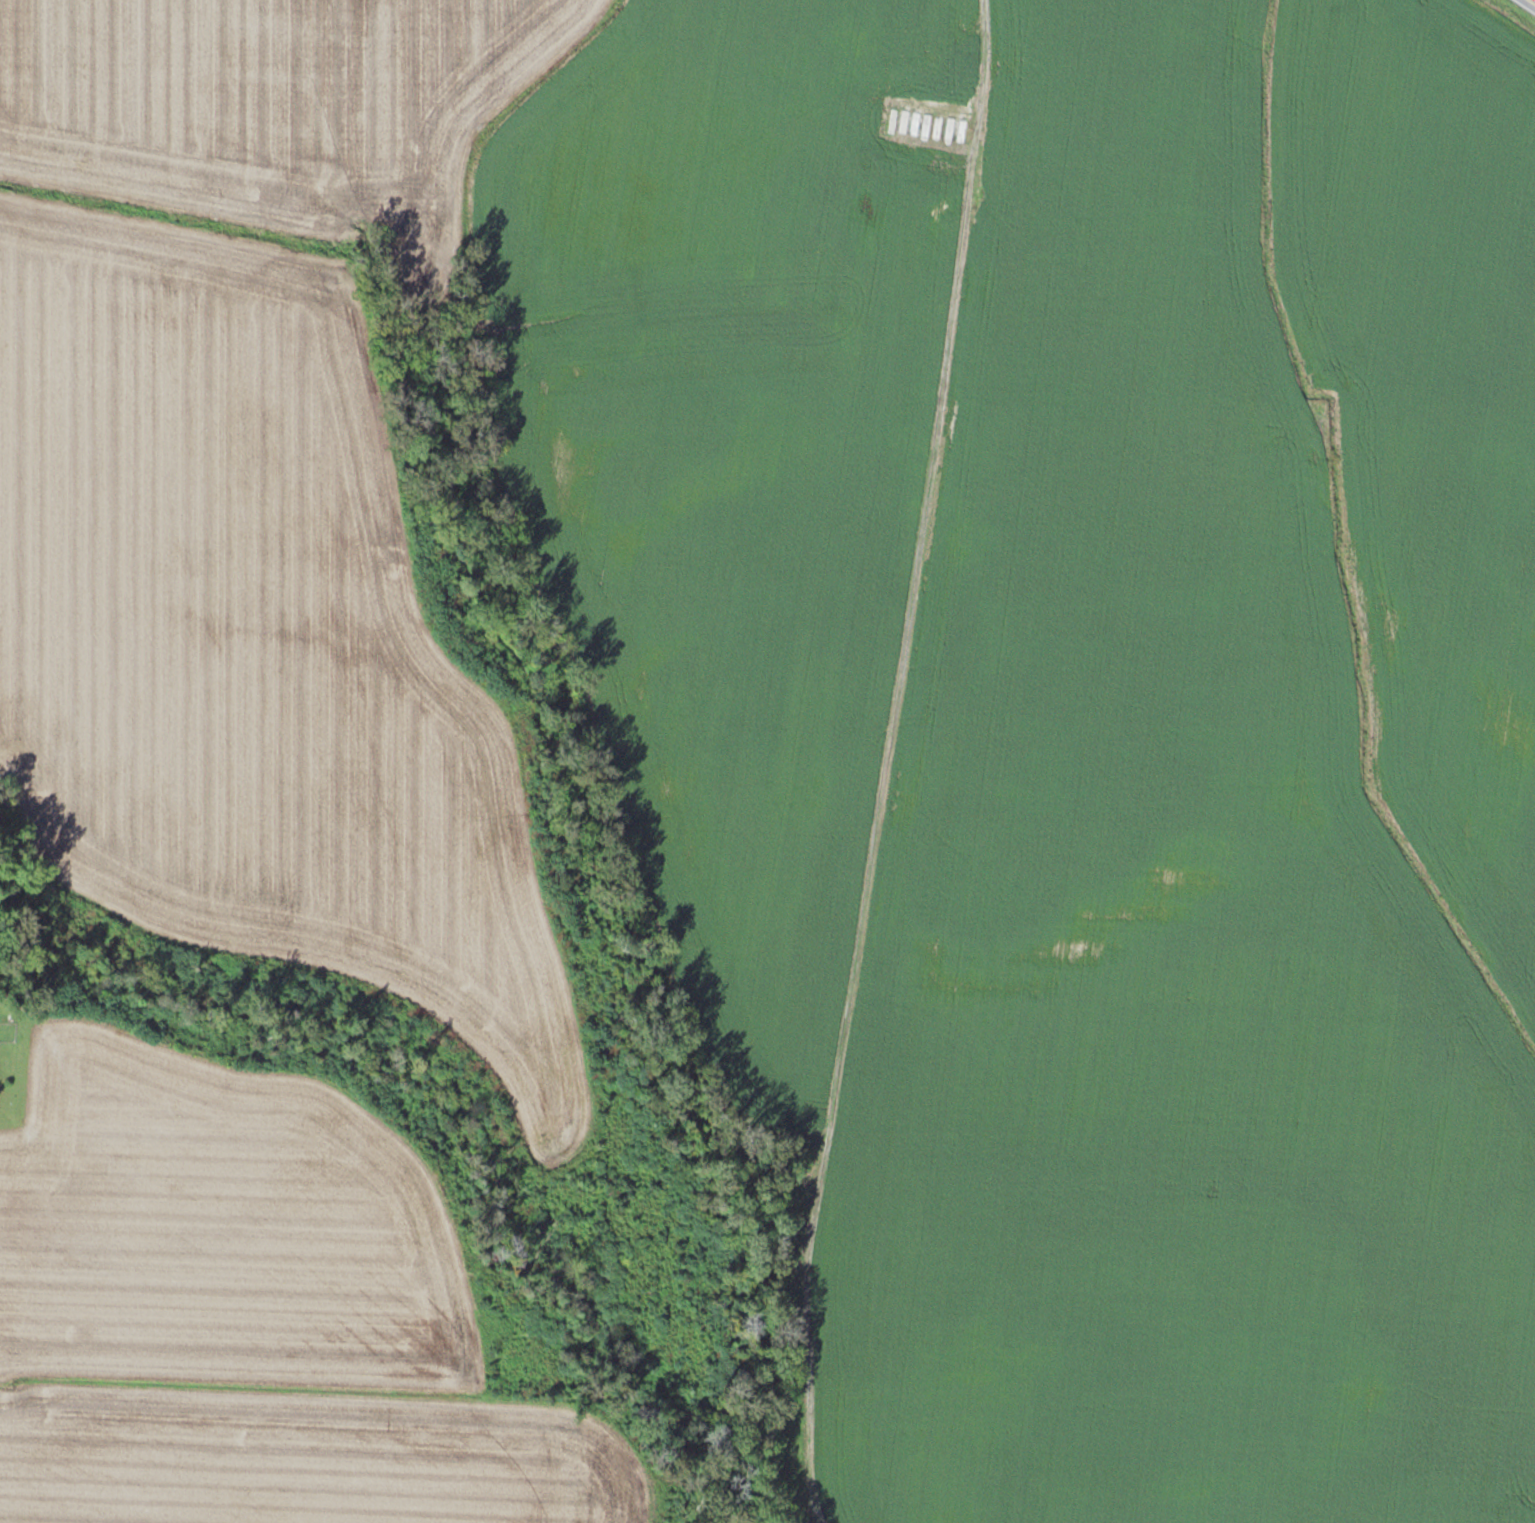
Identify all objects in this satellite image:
road: (1531, 2)
building: (941, 132)

